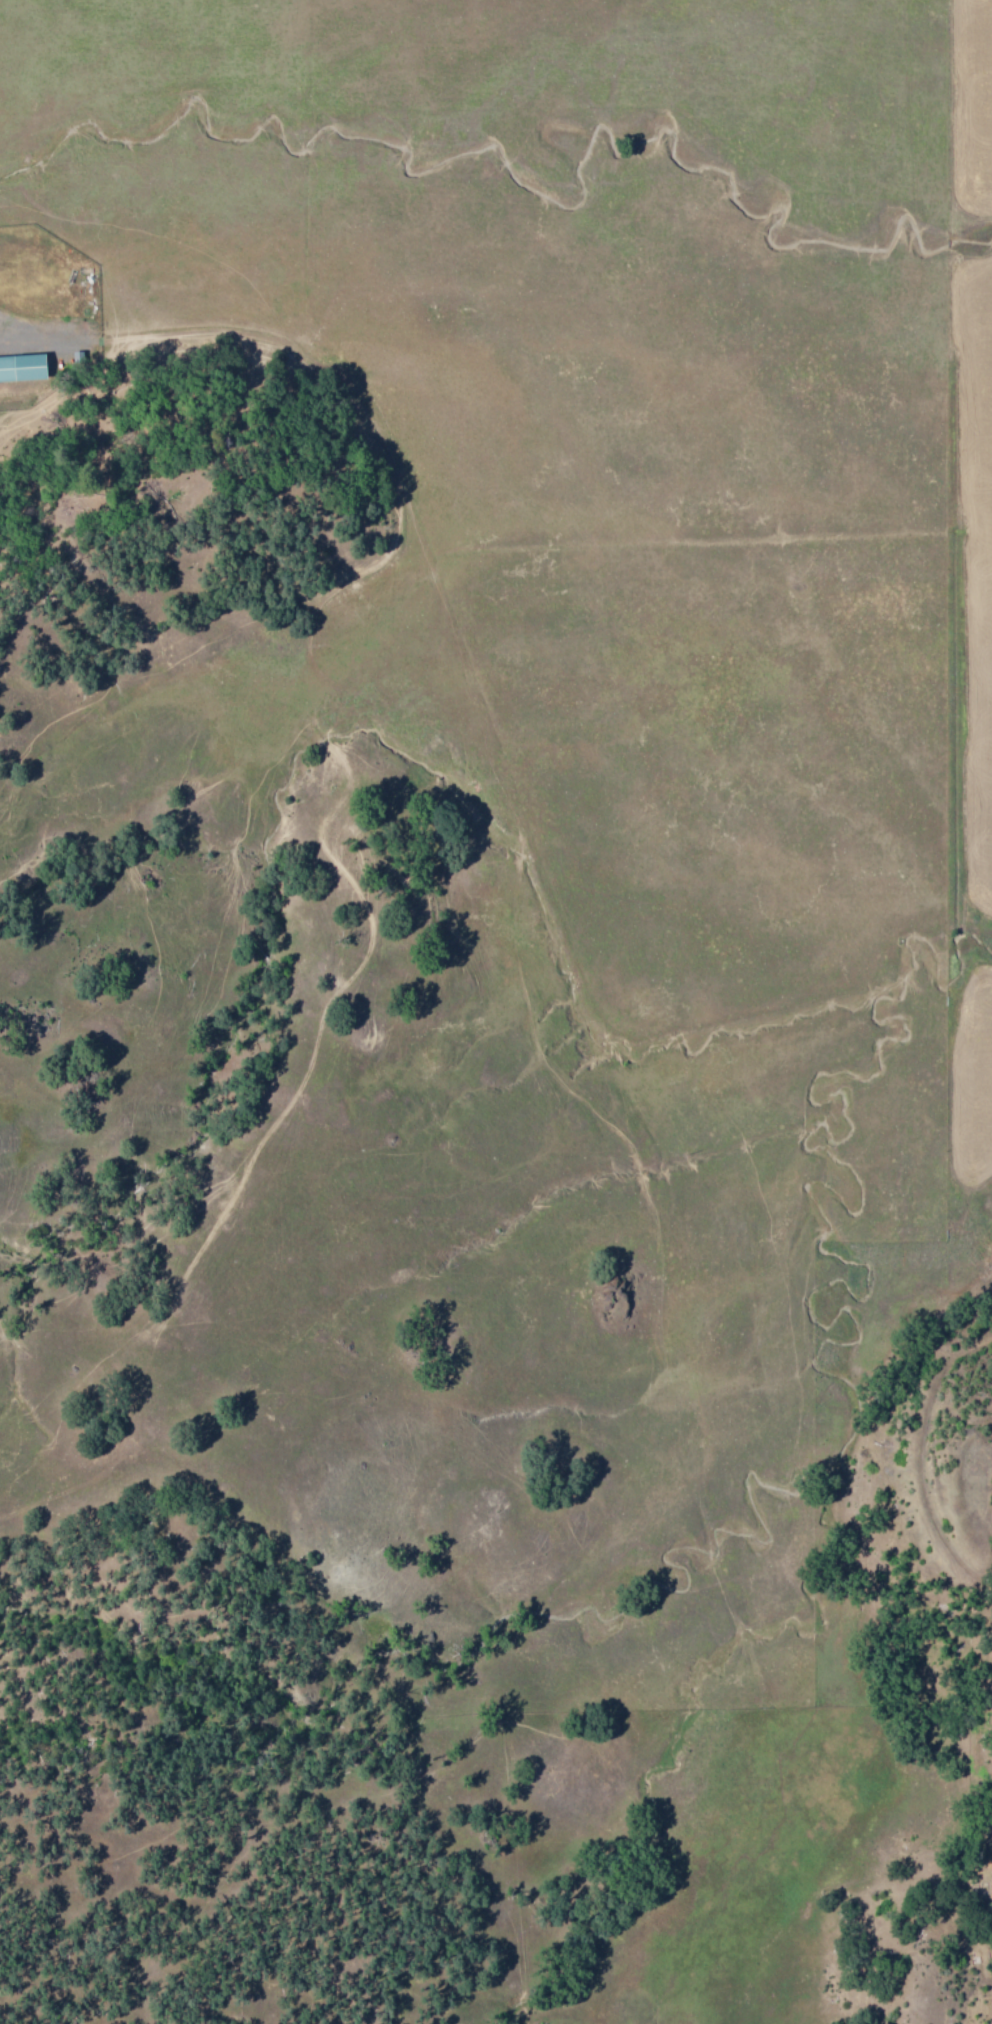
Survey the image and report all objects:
building: (23, 368)

